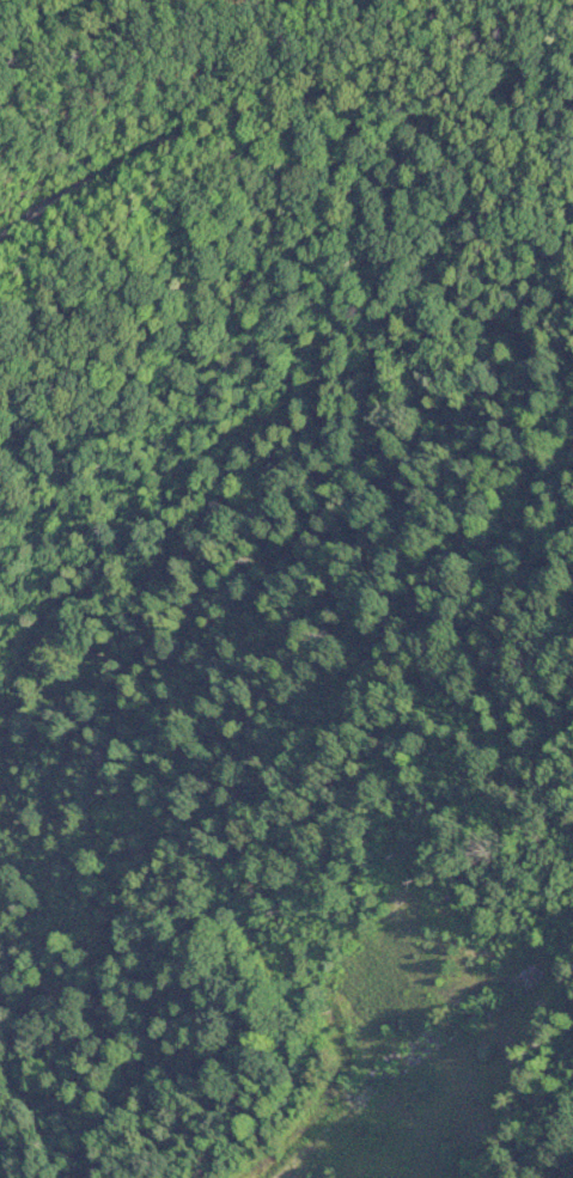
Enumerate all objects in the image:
quarry: (324, 1088)

